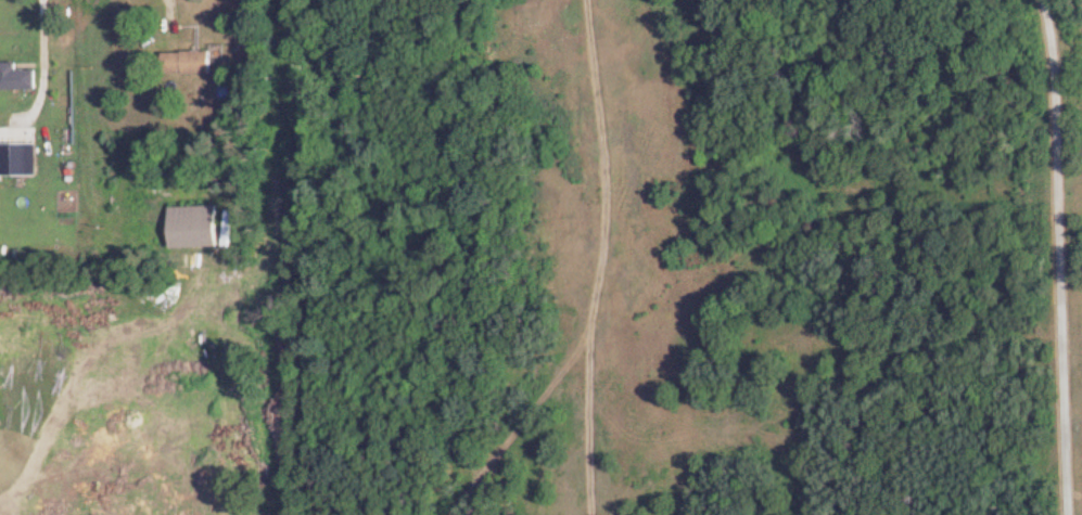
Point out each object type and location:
road: (47, 60)
building: (188, 62)
building: (17, 76)
building: (7, 158)
road: (1067, 257)

